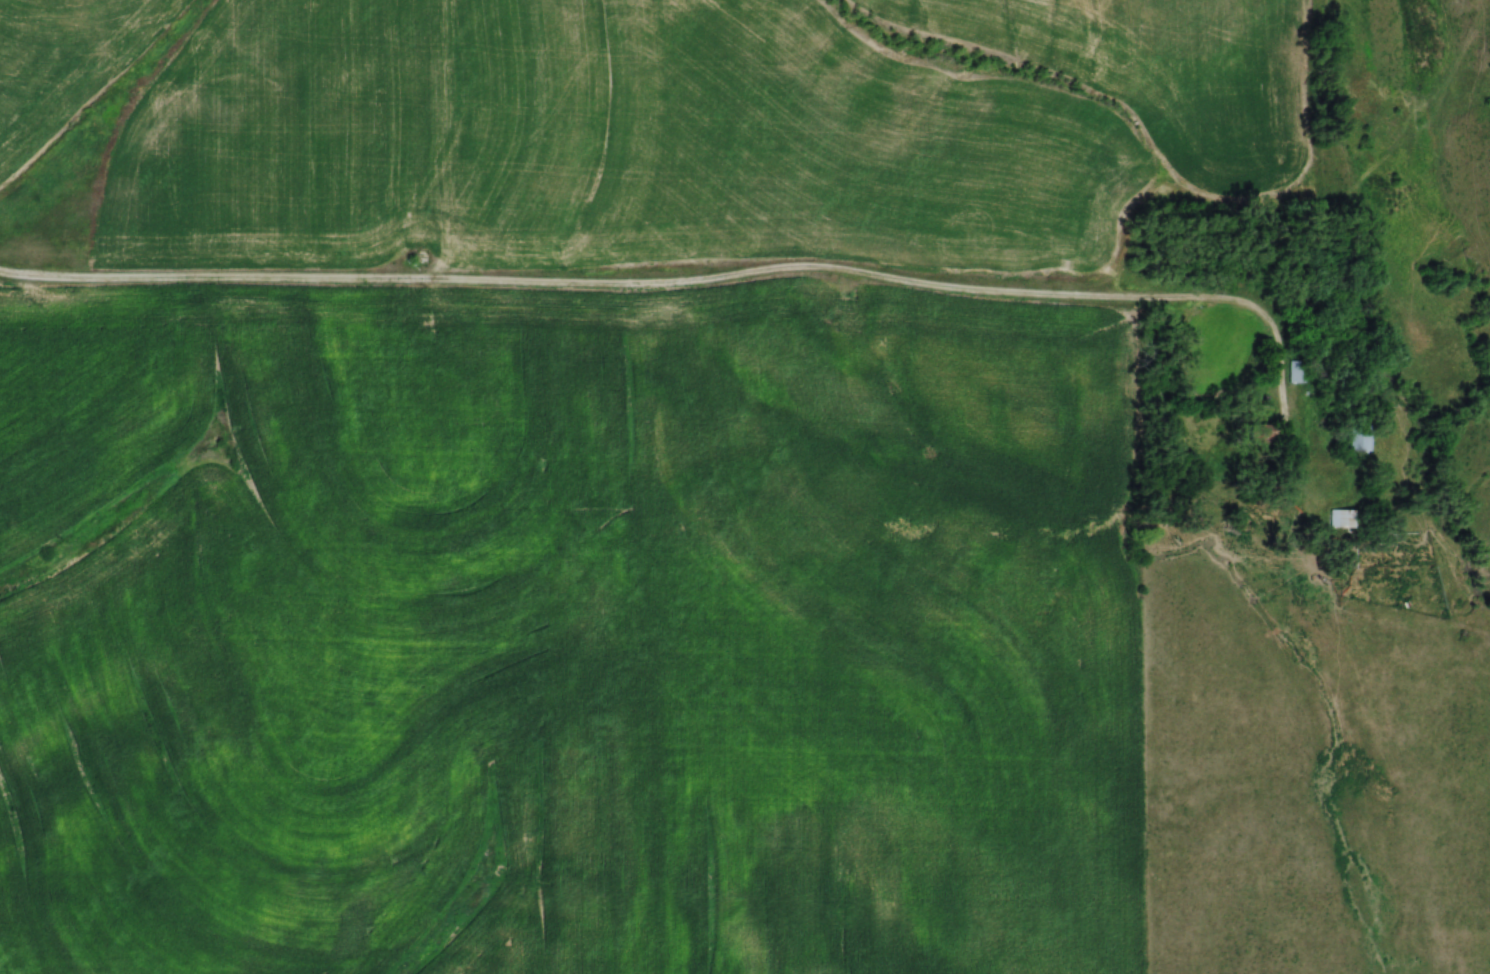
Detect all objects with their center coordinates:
road: (695, 286)
building: (1295, 372)
building: (1264, 430)
building: (1358, 436)
building: (1342, 518)

